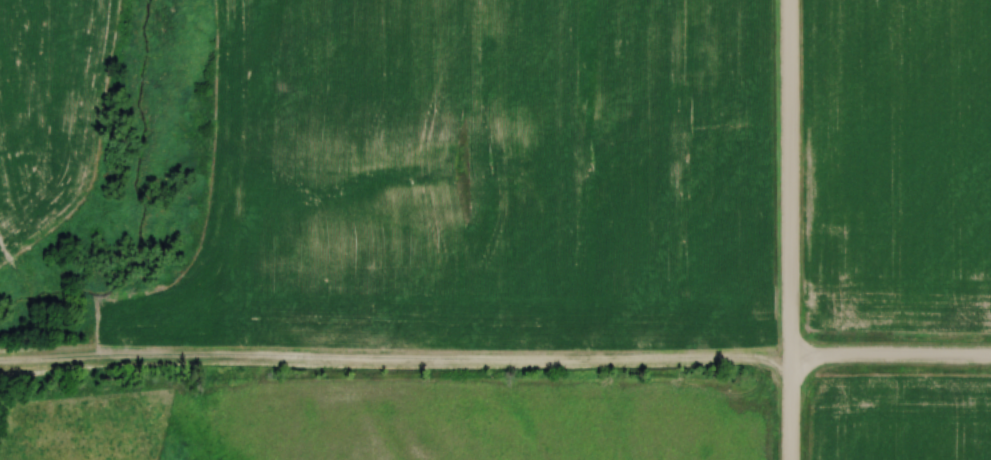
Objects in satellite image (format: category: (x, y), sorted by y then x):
road: (785, 230)
road: (888, 359)

